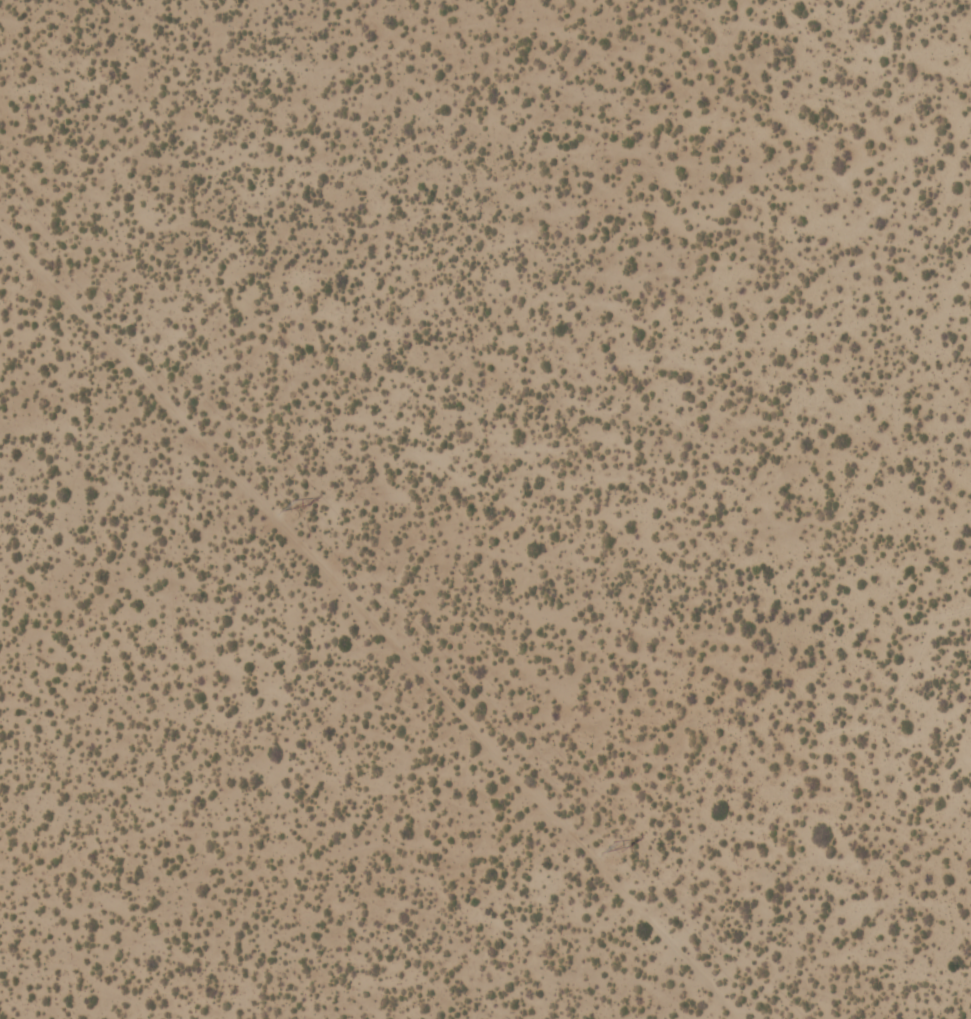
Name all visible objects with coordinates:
power tower: (285, 503)
road: (374, 620)
power tower: (606, 845)

